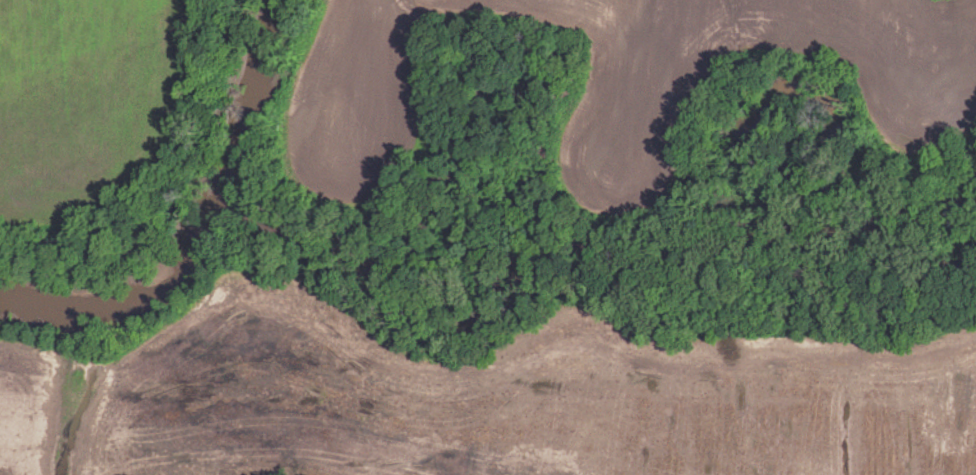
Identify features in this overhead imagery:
river: (211, 227)

